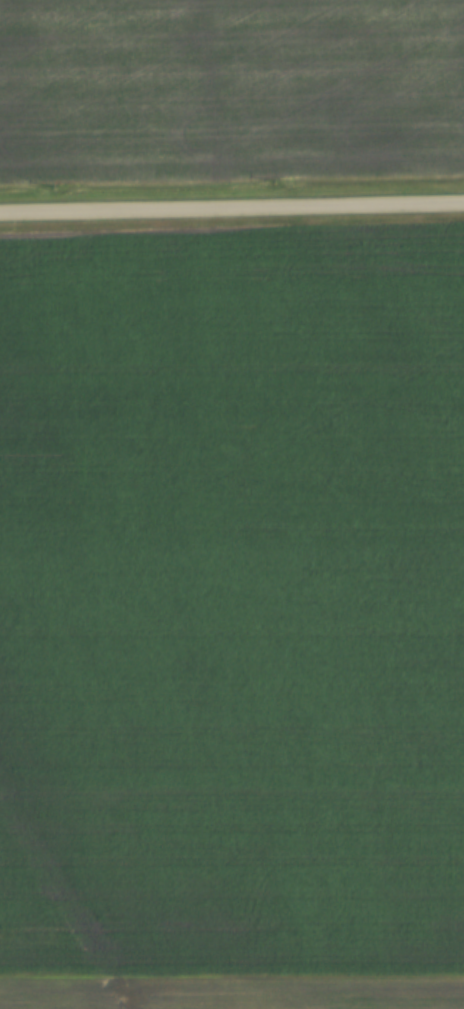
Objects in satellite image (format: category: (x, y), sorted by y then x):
crop: (229, 89)
road: (232, 205)
crop: (232, 601)
crop: (231, 993)

